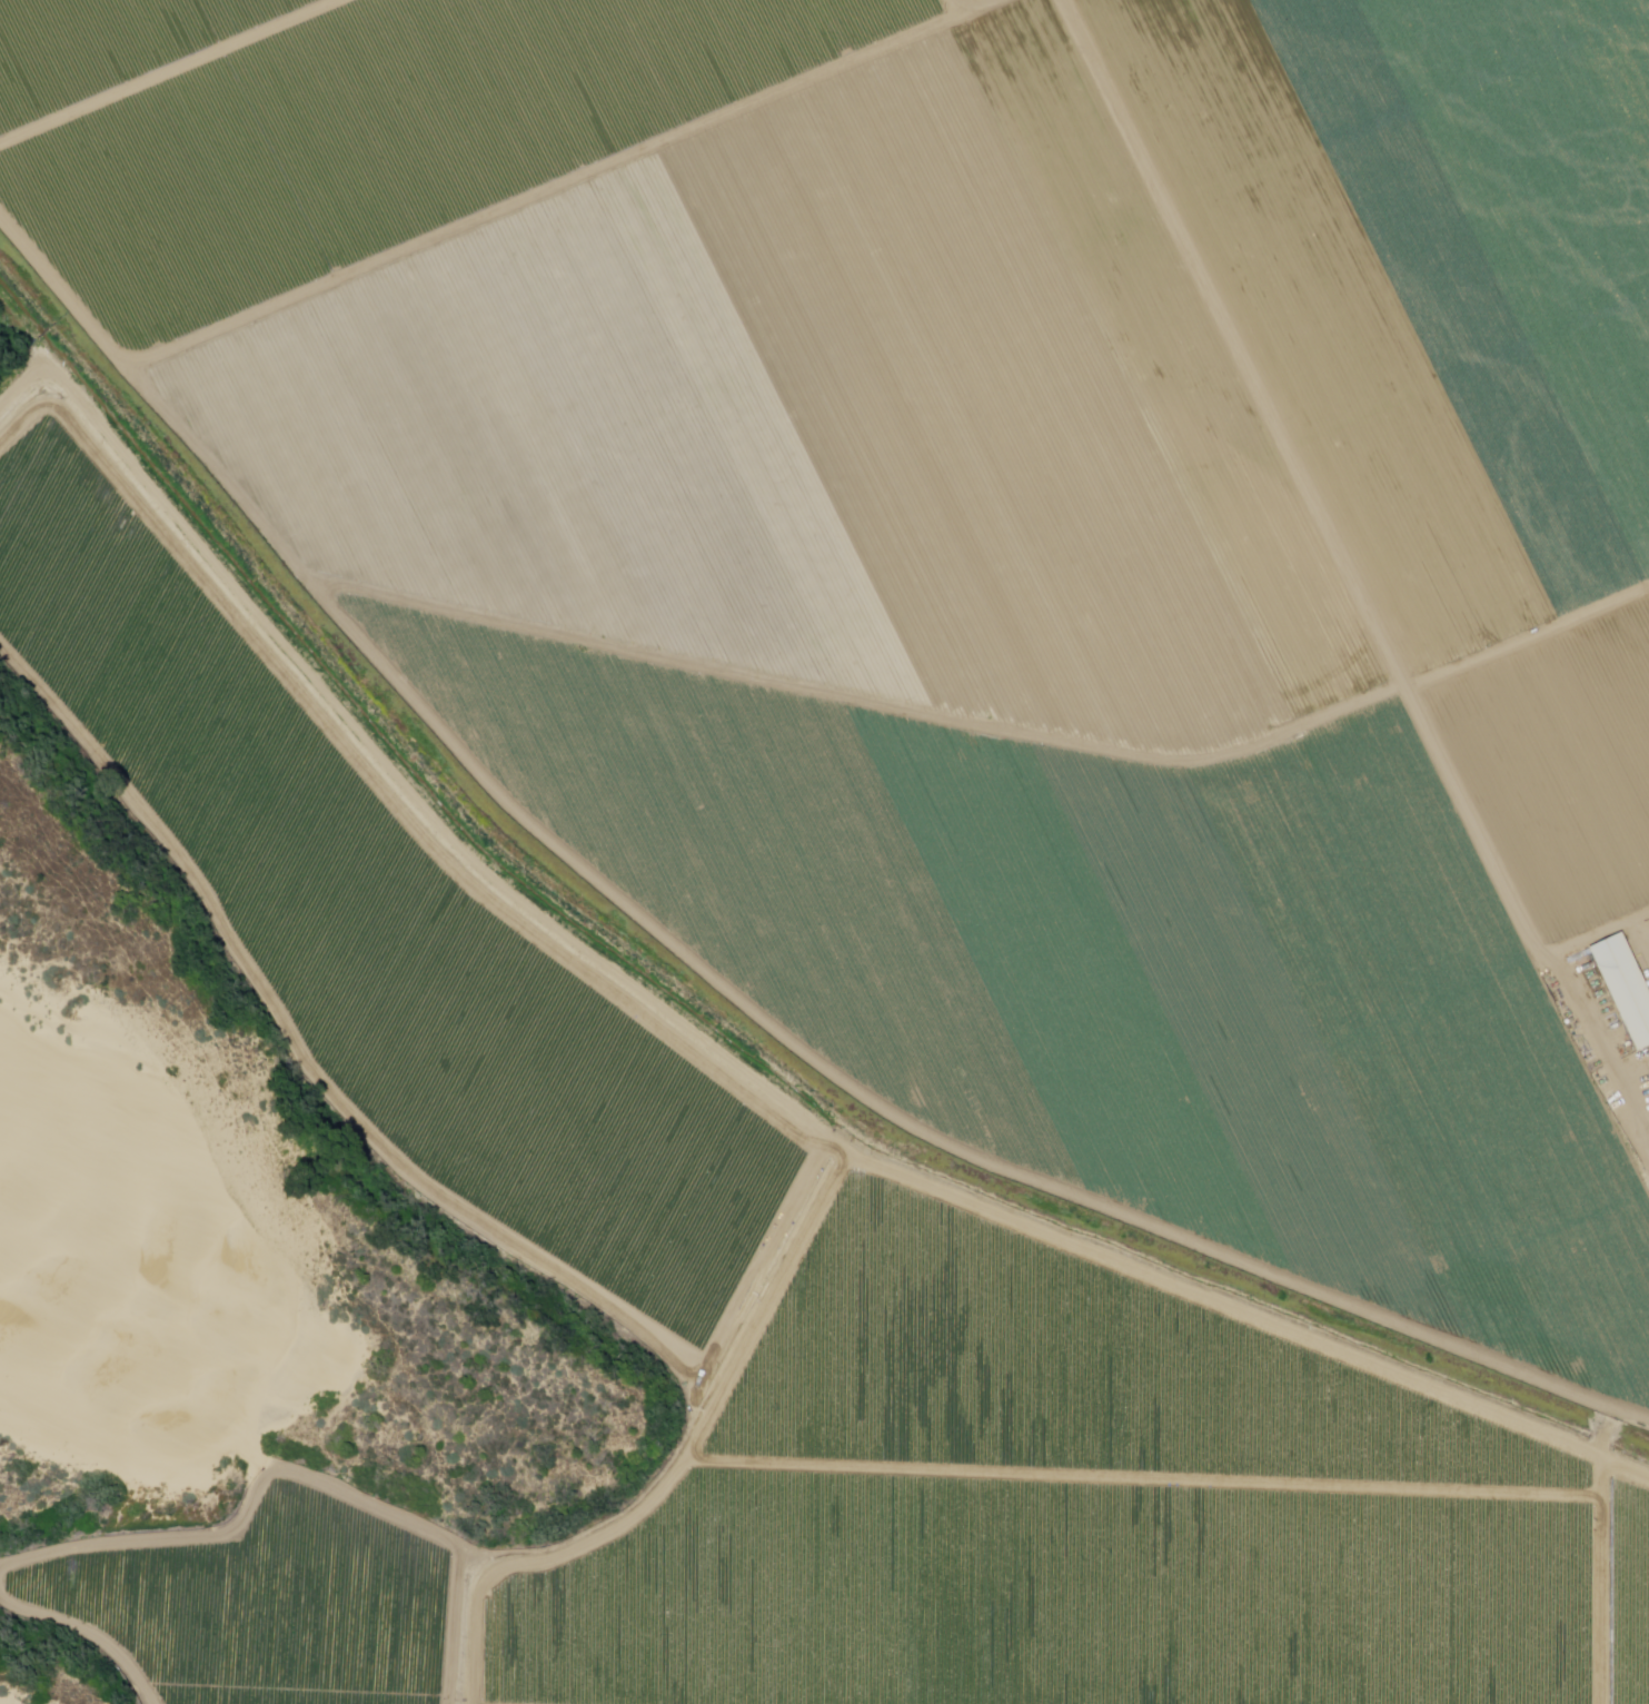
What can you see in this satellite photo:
crop: (967, 1)
crop: (98, 40)
crop: (1305, 69)
crop: (379, 133)
crop: (1439, 234)
crop: (667, 281)
crop: (1499, 488)
crop: (813, 496)
crop: (971, 714)
crop: (1561, 764)
crop: (1156, 947)
building: (1622, 985)
crop: (1391, 1149)
crop: (1564, 1309)
crop: (888, 1490)
crop: (1367, 1538)
crop: (1628, 1586)
crop: (339, 1606)
crop: (167, 1612)

